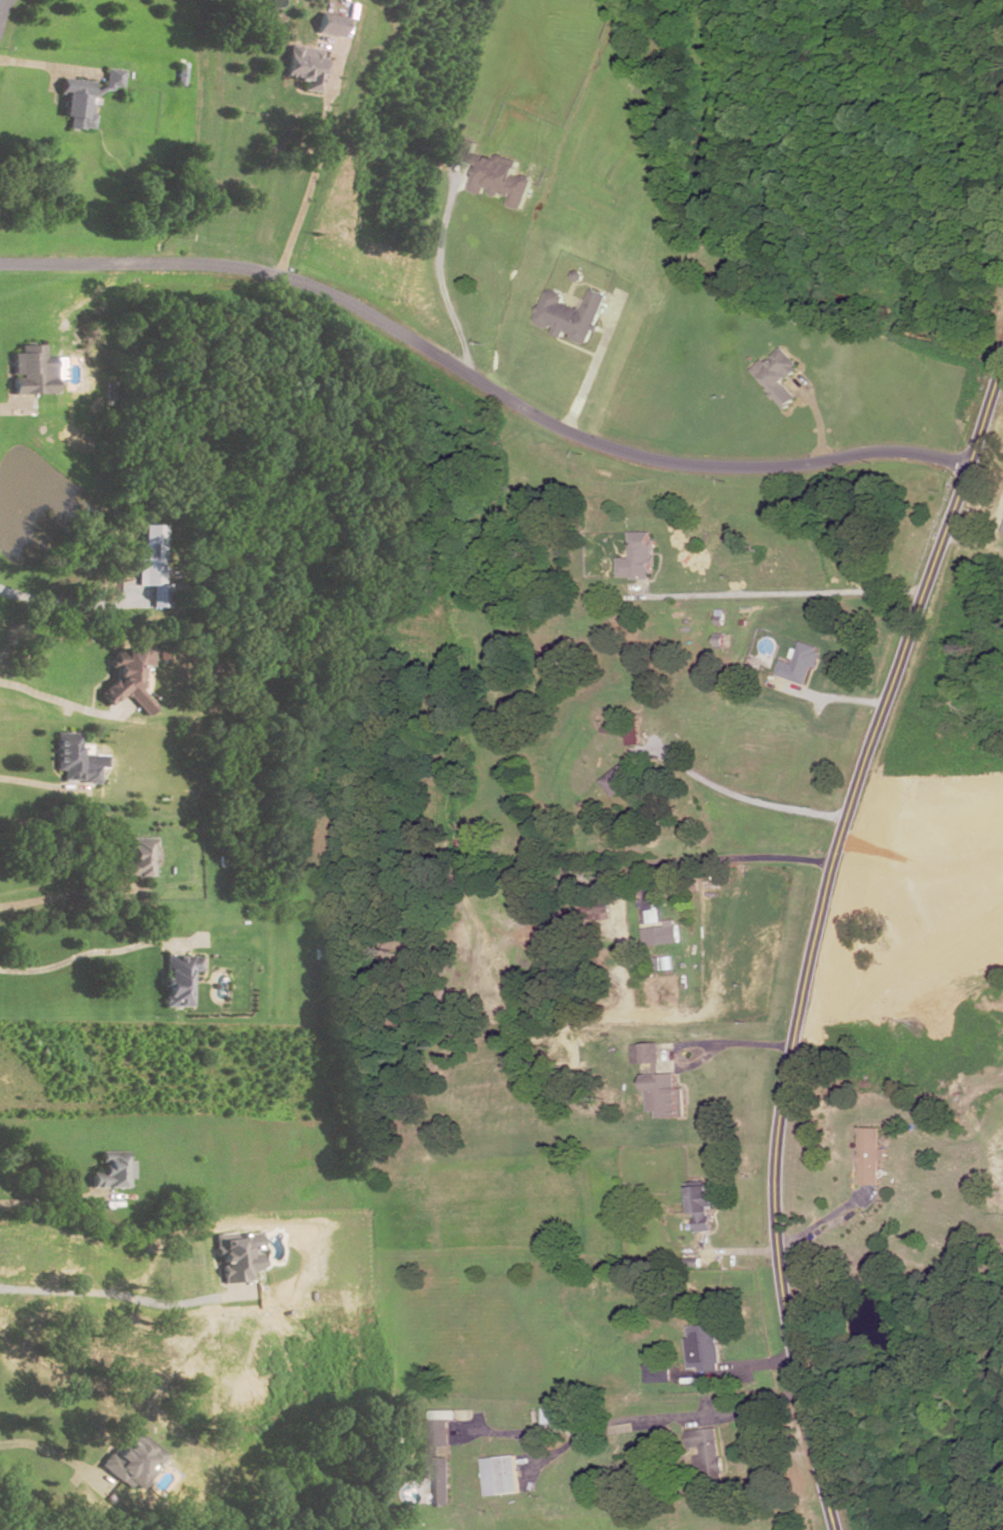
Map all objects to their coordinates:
road: (2, 7)
building: (330, 25)
road: (47, 66)
building: (305, 68)
building: (84, 99)
road: (318, 164)
building: (494, 175)
road: (443, 273)
building: (571, 315)
road: (578, 349)
road: (594, 364)
building: (29, 372)
building: (776, 378)
road: (482, 382)
road: (12, 409)
road: (817, 419)
building: (1002, 528)
building: (1002, 531)
road: (970, 542)
building: (636, 559)
building: (151, 566)
road: (783, 594)
road: (68, 605)
building: (718, 617)
building: (717, 641)
building: (798, 664)
building: (129, 680)
road: (95, 685)
road: (832, 699)
road: (85, 710)
building: (633, 728)
building: (72, 761)
building: (619, 780)
road: (38, 786)
road: (741, 798)
road: (779, 855)
building: (136, 859)
road: (68, 896)
building: (599, 907)
building: (662, 937)
road: (816, 941)
road: (93, 953)
building: (177, 979)
road: (694, 1045)
building: (650, 1054)
building: (665, 1095)
building: (870, 1158)
building: (110, 1172)
road: (57, 1199)
building: (701, 1204)
road: (824, 1226)
road: (745, 1252)
building: (236, 1254)
road: (106, 1295)
building: (703, 1349)
road: (737, 1370)
building: (658, 1373)
building: (556, 1413)
road: (637, 1422)
road: (52, 1456)
building: (707, 1456)
building: (133, 1463)
building: (440, 1465)
building: (502, 1476)

